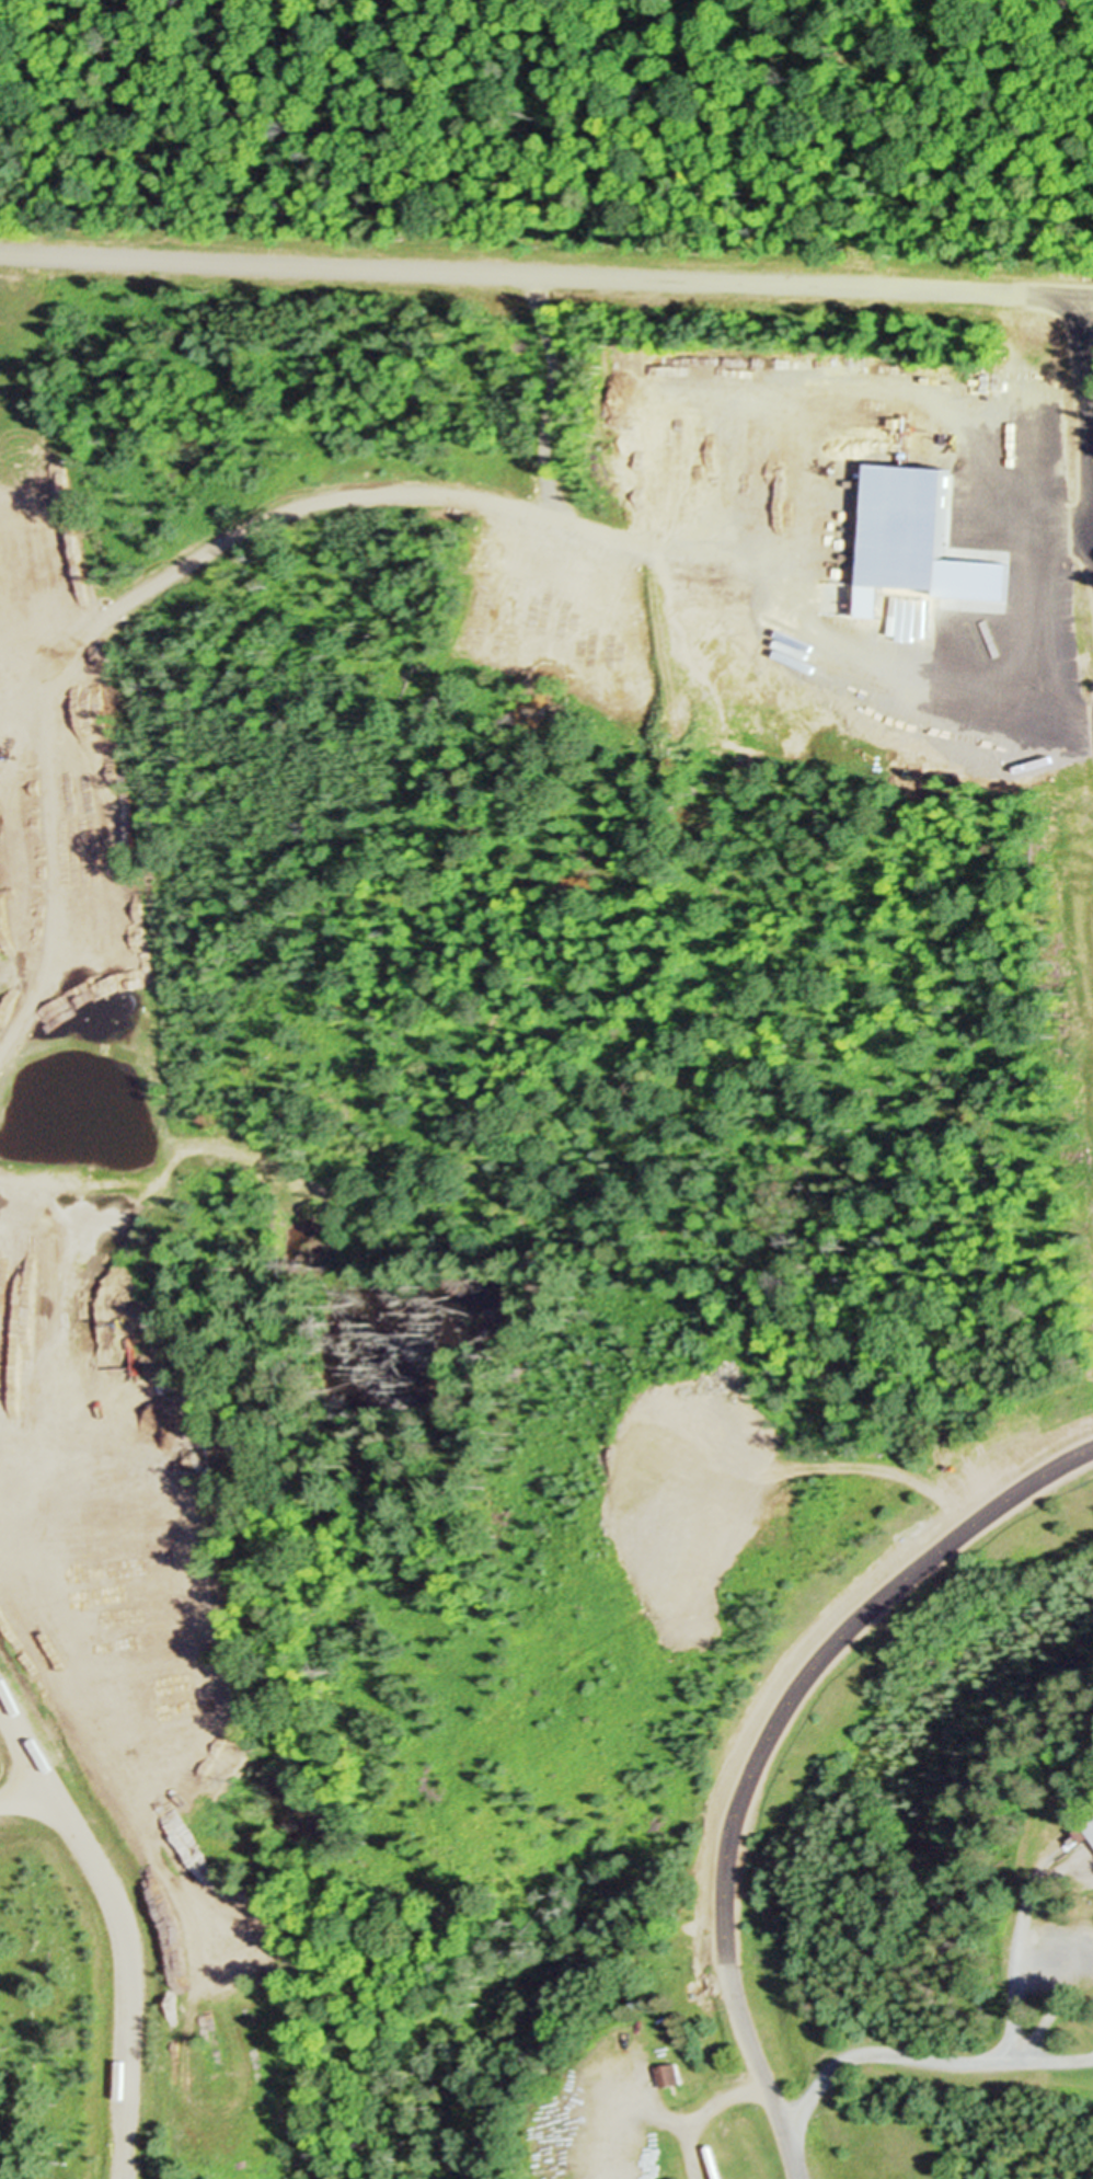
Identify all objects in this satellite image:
road: (545, 273)
road: (1091, 311)
road: (773, 509)
road: (1005, 523)
road: (1066, 524)
road: (1039, 548)
road: (764, 1750)
road: (25, 1799)
road: (116, 1925)
road: (1019, 1939)
road: (925, 2058)
road: (701, 2109)
road: (634, 2118)

